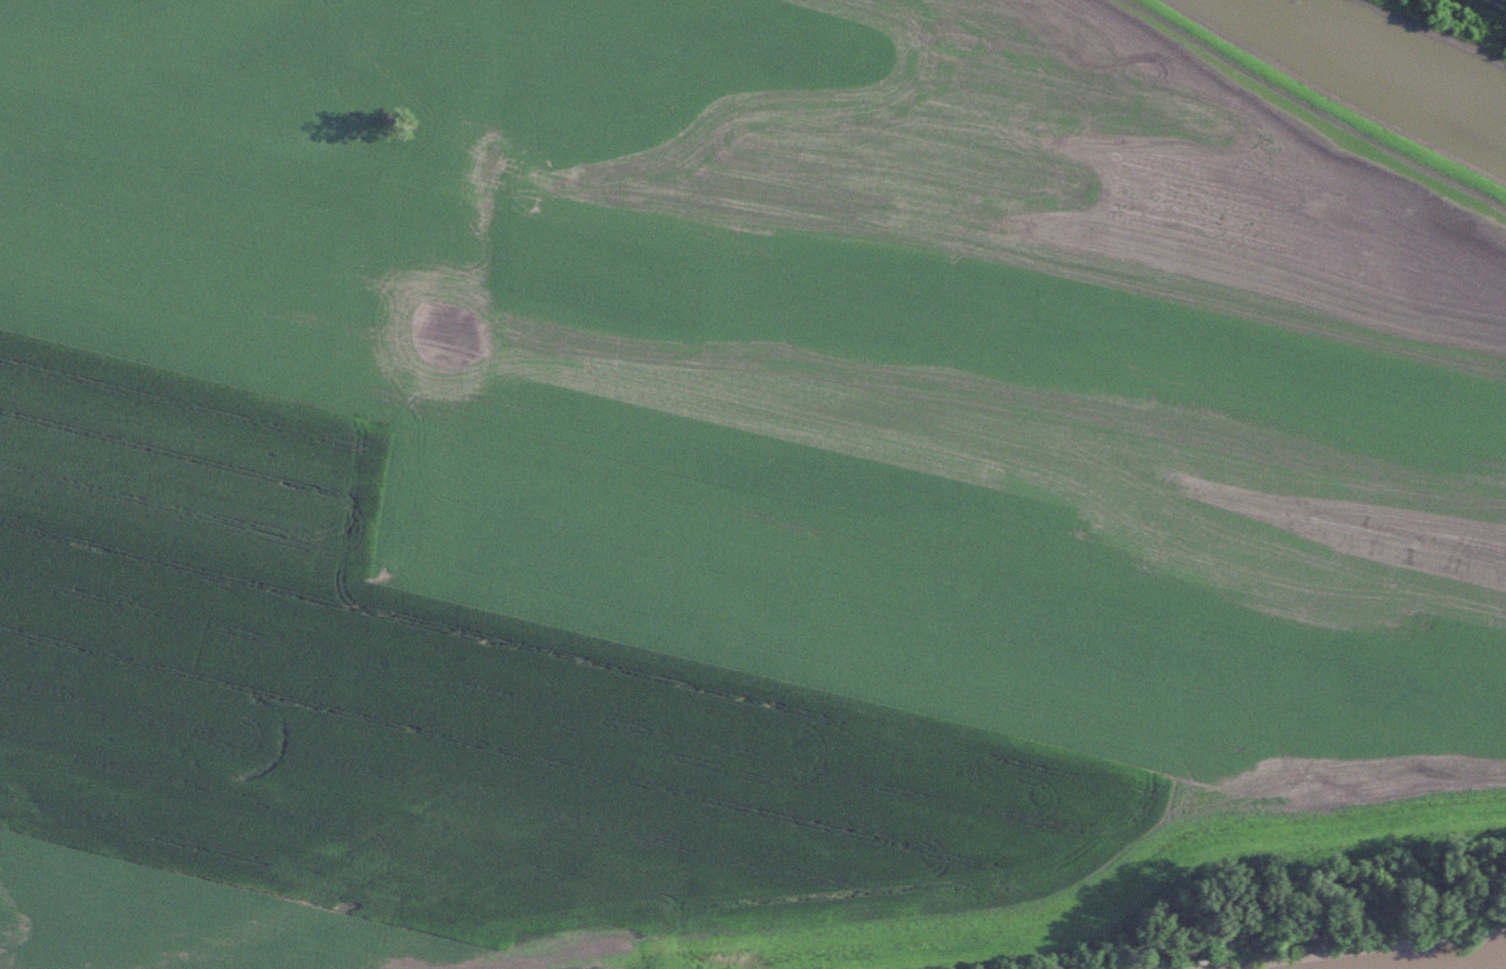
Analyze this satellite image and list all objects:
road: (1503, 1)

